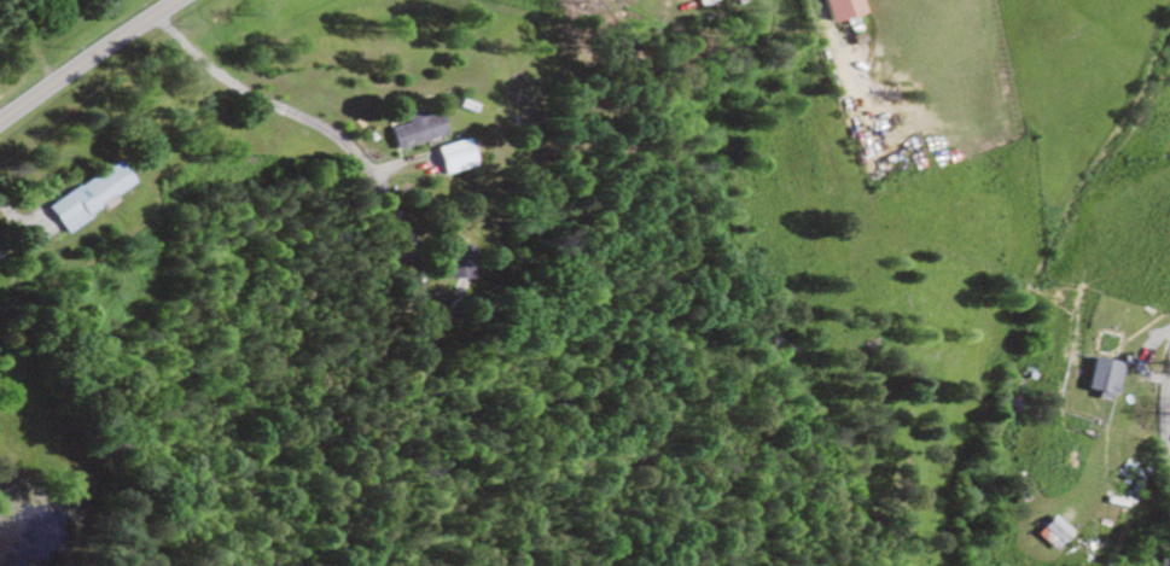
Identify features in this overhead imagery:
building: (838, 8)
road: (87, 59)
road: (257, 98)
building: (411, 129)
building: (447, 157)
building: (86, 197)
building: (452, 263)
building: (1101, 377)
road: (1165, 413)
building: (1049, 533)

